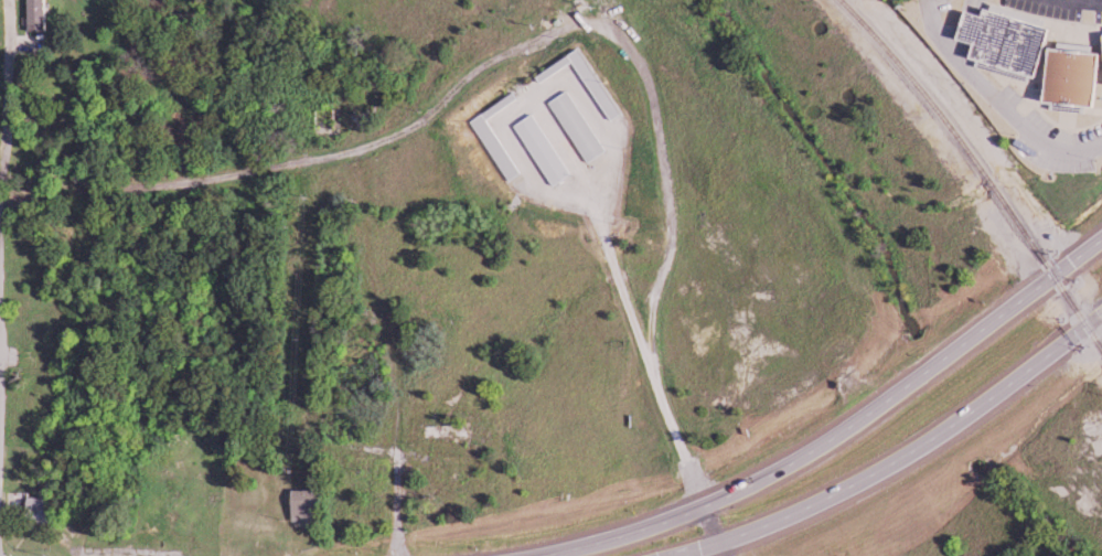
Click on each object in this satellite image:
road: (1068, 9)
building: (1008, 41)
building: (1076, 75)
railway: (977, 169)
road: (1062, 343)
road: (839, 431)
road: (859, 480)
road: (708, 533)

